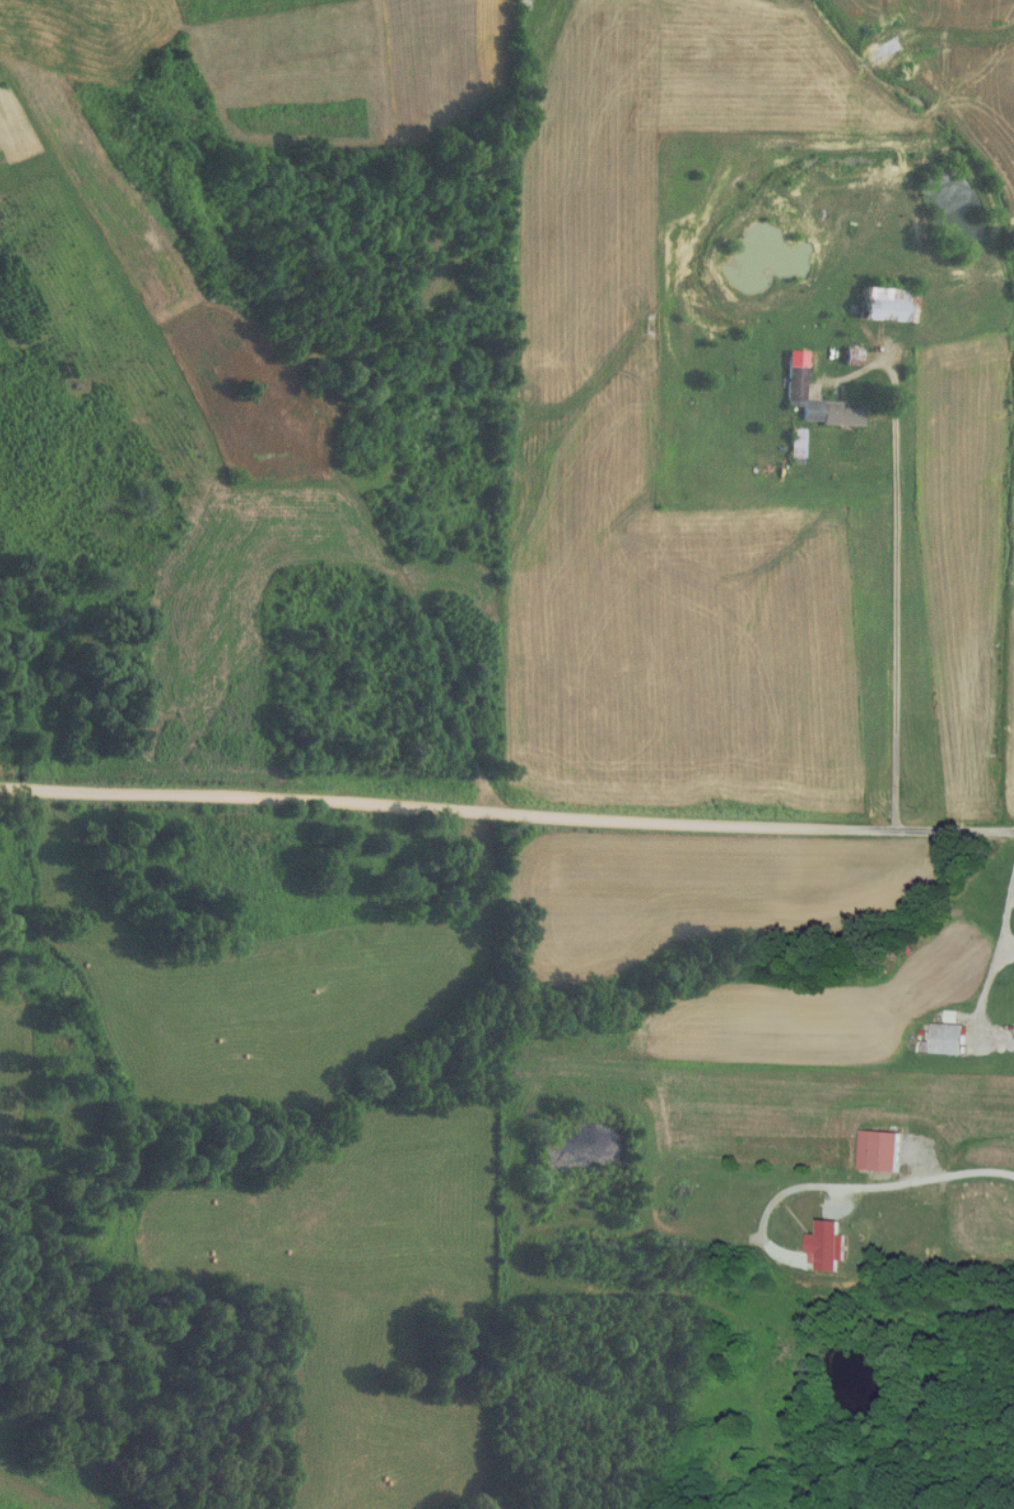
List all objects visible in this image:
building: (796, 393)
road: (894, 562)
road: (506, 813)
road: (1008, 917)
building: (946, 1039)
building: (879, 1151)
road: (922, 1180)
building: (826, 1245)

